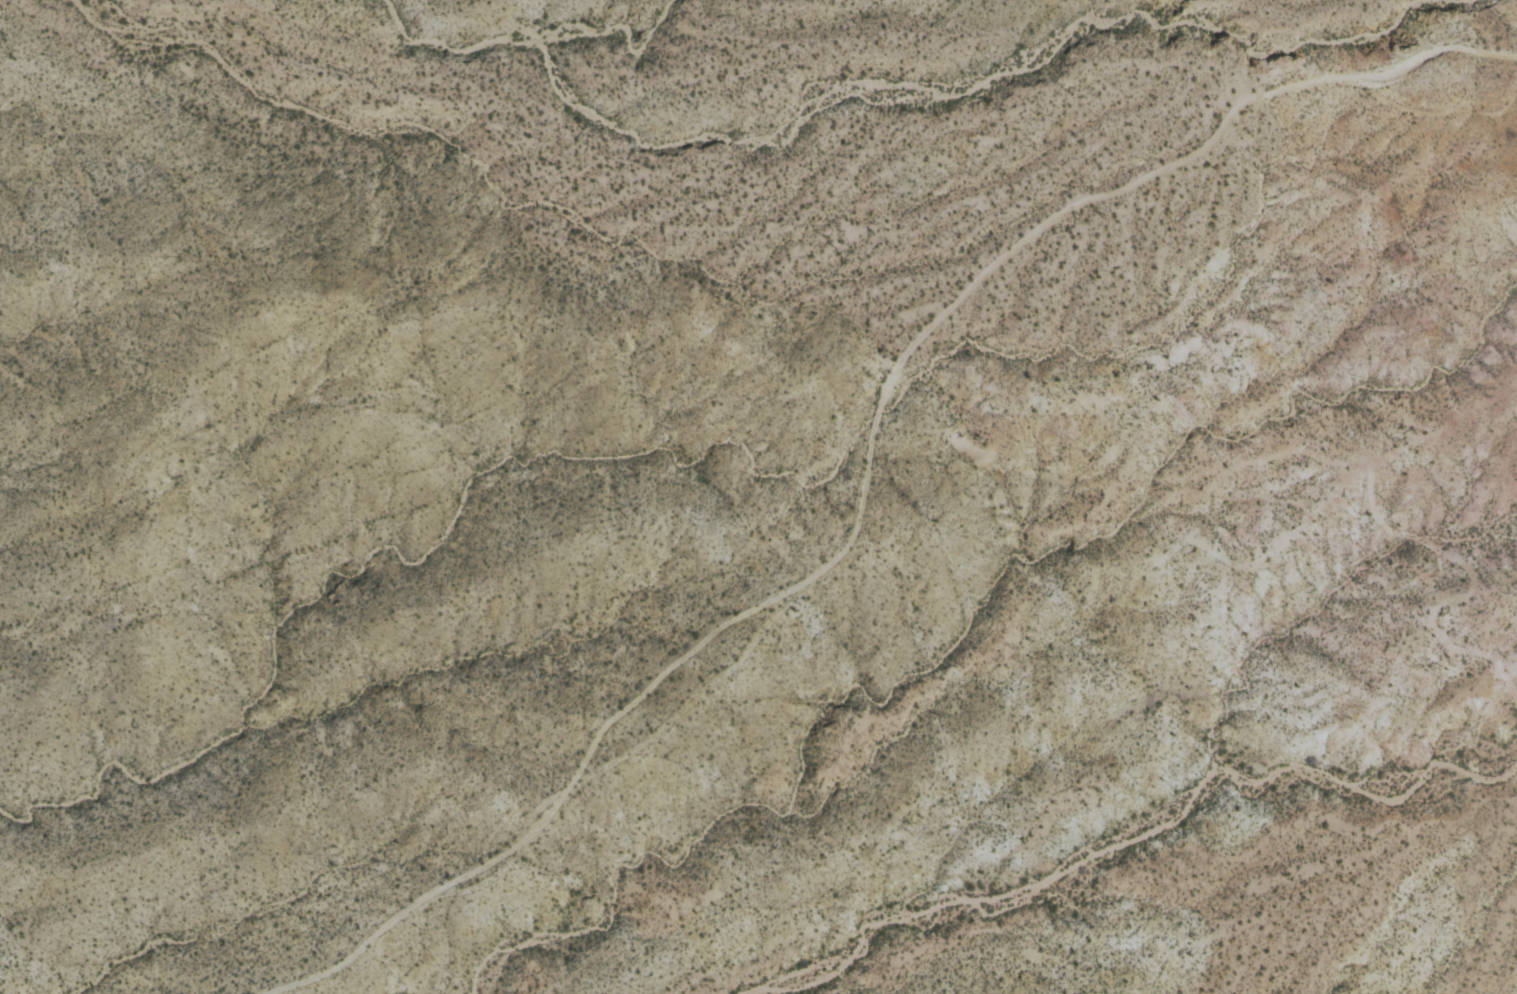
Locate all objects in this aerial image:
road: (870, 472)

